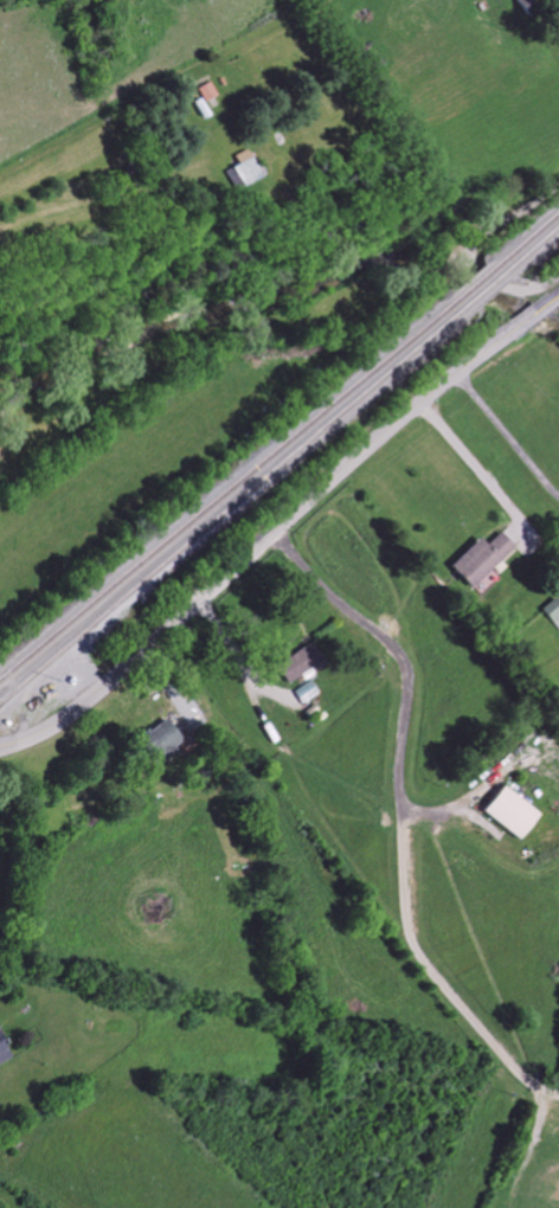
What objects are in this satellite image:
building: (528, 6)
building: (207, 91)
building: (240, 171)
road: (503, 220)
railway: (525, 238)
railway: (531, 250)
road: (488, 276)
railway: (478, 278)
railway: (489, 287)
road: (534, 287)
road: (505, 437)
road: (476, 470)
railway: (232, 482)
railway: (237, 497)
road: (278, 522)
building: (483, 559)
building: (553, 611)
road: (236, 658)
building: (301, 663)
road: (398, 687)
building: (162, 743)
road: (1, 748)
building: (513, 812)
road: (425, 978)
building: (4, 1052)
road: (7, 1202)

